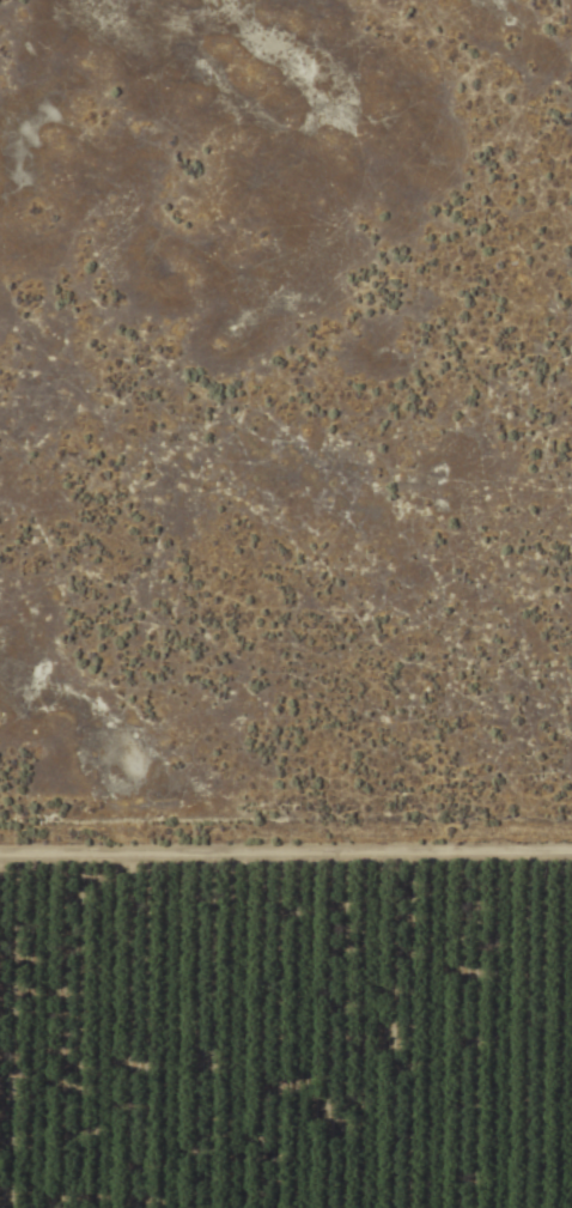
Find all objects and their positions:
road: (286, 861)

